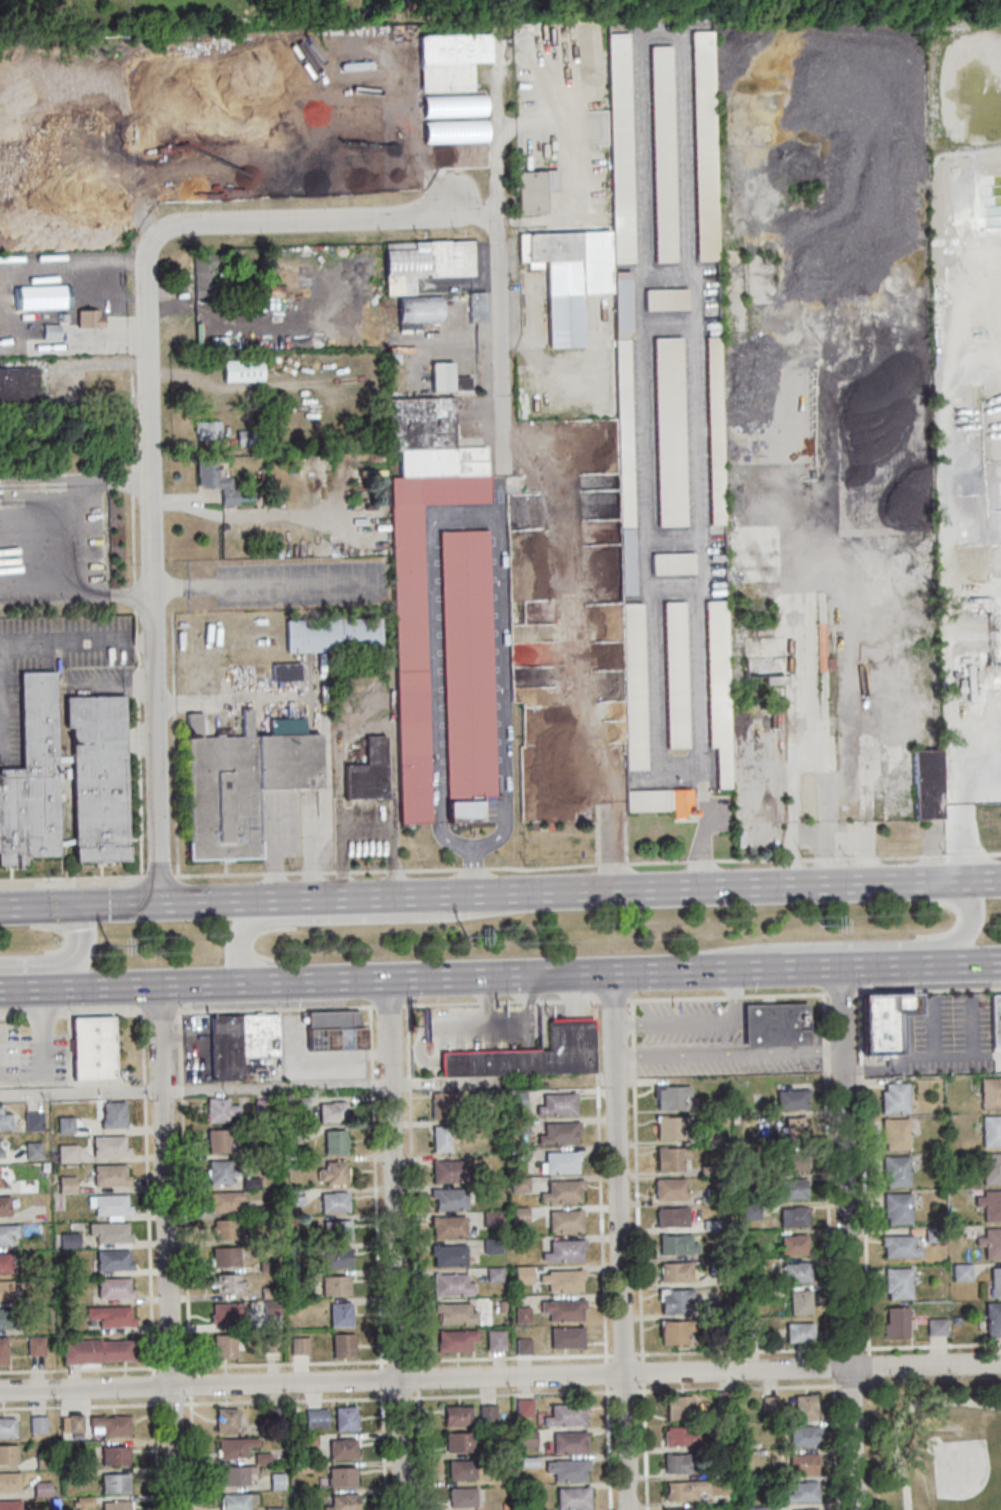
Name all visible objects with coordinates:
building: (452, 60)
road: (499, 124)
building: (621, 132)
building: (705, 146)
building: (663, 154)
road: (575, 172)
building: (535, 190)
road: (315, 222)
building: (206, 274)
building: (89, 282)
building: (400, 285)
building: (667, 300)
building: (479, 307)
building: (90, 318)
building: (51, 331)
road: (500, 344)
building: (241, 370)
building: (449, 378)
building: (19, 384)
building: (208, 429)
building: (716, 431)
building: (670, 432)
building: (625, 433)
building: (218, 482)
road: (466, 512)
road: (64, 539)
building: (674, 564)
building: (422, 569)
road: (151, 577)
road: (263, 582)
building: (334, 635)
road: (76, 643)
building: (761, 671)
building: (287, 672)
building: (468, 674)
building: (677, 674)
building: (635, 686)
building: (720, 688)
building: (369, 772)
building: (30, 777)
building: (96, 777)
building: (927, 783)
building: (238, 784)
building: (809, 793)
building: (662, 801)
road: (366, 836)
road: (612, 845)
road: (500, 870)
road: (471, 873)
road: (725, 886)
road: (358, 897)
road: (171, 902)
road: (38, 905)
traffic signals: (76, 905)
road: (362, 918)
power tower: (823, 929)
power tower: (469, 941)
road: (855, 945)
power tower: (111, 950)
road: (62, 961)
road: (974, 963)
road: (811, 967)
road: (363, 978)
road: (25, 989)
road: (500, 1003)
building: (900, 1005)
building: (994, 1021)
road: (699, 1023)
building: (773, 1025)
road: (507, 1027)
building: (876, 1027)
road: (431, 1028)
building: (332, 1031)
building: (256, 1035)
parking lot: (707, 1043)
power substation: (322, 1045)
road: (434, 1045)
building: (91, 1048)
building: (223, 1048)
road: (727, 1053)
road: (41, 1054)
building: (529, 1054)
parking lot: (30, 1058)
road: (920, 1059)
road: (64, 1082)
road: (248, 1087)
building: (989, 1094)
building: (669, 1097)
building: (790, 1098)
building: (893, 1099)
building: (517, 1100)
building: (296, 1102)
building: (439, 1105)
building: (556, 1105)
building: (261, 1107)
building: (217, 1110)
building: (726, 1110)
building: (330, 1112)
building: (112, 1115)
building: (31, 1121)
building: (4, 1122)
building: (63, 1125)
building: (516, 1126)
building: (793, 1126)
building: (670, 1127)
building: (990, 1132)
building: (894, 1133)
building: (557, 1134)
building: (290, 1135)
building: (709, 1136)
building: (439, 1138)
building: (216, 1141)
building: (332, 1142)
building: (107, 1146)
building: (32, 1150)
building: (248, 1152)
building: (0, 1154)
building: (65, 1154)
building: (517, 1155)
building: (669, 1158)
building: (559, 1162)
building: (793, 1162)
building: (293, 1163)
building: (43, 1166)
building: (707, 1169)
building: (990, 1169)
building: (448, 1171)
building: (895, 1171)
building: (218, 1173)
building: (331, 1173)
building: (108, 1176)
road: (635, 1180)
road: (598, 1181)
building: (249, 1183)
building: (1, 1184)
building: (518, 1184)
building: (65, 1185)
building: (668, 1189)
building: (791, 1189)
building: (561, 1191)
building: (711, 1195)
building: (293, 1197)
road: (410, 1197)
building: (447, 1199)
building: (222, 1201)
building: (332, 1202)
building: (109, 1205)
building: (990, 1205)
building: (3, 1206)
building: (897, 1208)
building: (263, 1211)
building: (749, 1211)
building: (518, 1215)
building: (671, 1217)
building: (792, 1217)
building: (490, 1219)
building: (563, 1221)
building: (951, 1221)
building: (710, 1224)
building: (446, 1227)
building: (222, 1229)
building: (334, 1230)
building: (108, 1232)
building: (6, 1234)
building: (933, 1235)
building: (254, 1238)
road: (847, 1238)
building: (67, 1240)
road: (619, 1241)
road: (394, 1243)
building: (675, 1244)
building: (991, 1244)
building: (793, 1245)
building: (490, 1246)
building: (899, 1246)
road: (166, 1247)
building: (294, 1247)
building: (563, 1251)
road: (830, 1252)
building: (446, 1255)
building: (222, 1256)
building: (334, 1258)
road: (376, 1258)
building: (111, 1260)
road: (148, 1260)
road: (185, 1260)
building: (4, 1263)
building: (265, 1266)
building: (675, 1272)
building: (795, 1273)
building: (961, 1273)
building: (492, 1274)
building: (521, 1275)
building: (561, 1280)
building: (225, 1283)
building: (898, 1283)
building: (995, 1283)
building: (333, 1284)
building: (449, 1285)
building: (112, 1288)
building: (5, 1290)
building: (266, 1292)
building: (674, 1301)
building: (799, 1302)
building: (500, 1306)
building: (708, 1307)
building: (270, 1308)
building: (561, 1310)
building: (224, 1313)
building: (453, 1313)
building: (338, 1315)
building: (521, 1315)
building: (109, 1316)
building: (6, 1319)
building: (955, 1320)
building: (992, 1320)
building: (896, 1323)
building: (936, 1327)
building: (674, 1331)
building: (798, 1333)
building: (749, 1335)
building: (721, 1336)
building: (564, 1338)
building: (453, 1340)
building: (494, 1340)
building: (268, 1344)
building: (521, 1344)
building: (297, 1345)
building: (35, 1346)
building: (340, 1346)
building: (222, 1347)
building: (2, 1352)
building: (94, 1352)
road: (500, 1357)
road: (641, 1372)
road: (605, 1374)
road: (500, 1376)
road: (632, 1391)
building: (724, 1399)
building: (769, 1403)
building: (806, 1406)
building: (524, 1407)
building: (680, 1407)
building: (272, 1413)
building: (487, 1413)
road: (904, 1413)
building: (566, 1414)
building: (456, 1415)
building: (315, 1418)
building: (345, 1418)
building: (226, 1419)
building: (74, 1422)
building: (65, 1423)
building: (37, 1424)
building: (110, 1425)
building: (7, 1426)
building: (76, 1435)
building: (681, 1435)
building: (804, 1435)
building: (527, 1438)
building: (308, 1439)
building: (459, 1442)
building: (569, 1442)
building: (725, 1443)
road: (644, 1446)
building: (234, 1447)
road: (607, 1447)
building: (343, 1448)
park: (935, 1448)
road: (418, 1449)
building: (8, 1454)
building: (114, 1456)
building: (261, 1457)
building: (43, 1460)
building: (528, 1462)
building: (679, 1462)
building: (803, 1462)
building: (302, 1467)
building: (461, 1469)
building: (567, 1469)
park: (961, 1469)
building: (715, 1472)
building: (235, 1474)
building: (72, 1475)
building: (341, 1477)
building: (9, 1481)
building: (276, 1481)
building: (114, 1483)
building: (763, 1483)
building: (42, 1489)
building: (684, 1489)
building: (801, 1492)
building: (295, 1495)
building: (462, 1497)
building: (573, 1498)
building: (720, 1499)
building: (237, 1501)
building: (82, 1502)
building: (343, 1502)
building: (9, 1505)
building: (114, 1505)
building: (504, 1506)
building: (272, 1508)
building: (685, 1508)
building: (762, 1508)
building: (809, 1509)

